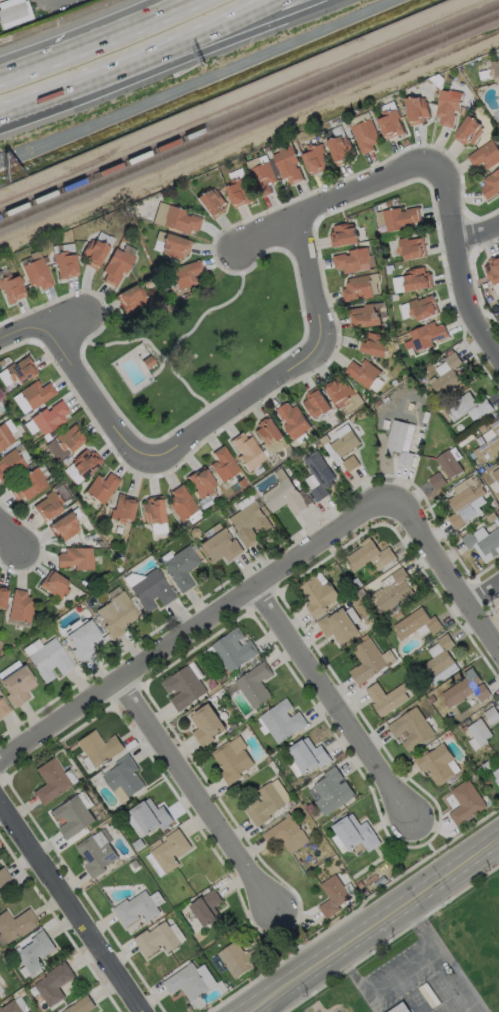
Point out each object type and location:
road: (50, 3)
road: (179, 6)
road: (183, 6)
building: (13, 12)
road: (85, 46)
road: (132, 57)
road: (166, 65)
building: (494, 69)
building: (497, 100)
building: (447, 106)
building: (416, 109)
railway: (249, 113)
building: (389, 123)
railway: (249, 125)
building: (468, 130)
building: (365, 135)
building: (339, 148)
building: (484, 154)
building: (315, 158)
building: (287, 164)
building: (262, 178)
building: (490, 184)
building: (238, 192)
building: (210, 202)
road: (339, 205)
building: (399, 218)
building: (179, 220)
building: (342, 235)
road: (477, 235)
building: (174, 246)
building: (411, 247)
building: (94, 253)
building: (352, 260)
road: (458, 263)
building: (64, 264)
building: (116, 265)
building: (493, 268)
building: (36, 273)
building: (186, 273)
building: (416, 278)
building: (10, 288)
building: (356, 288)
building: (131, 297)
road: (215, 307)
building: (422, 307)
building: (364, 316)
road: (45, 324)
building: (426, 335)
road: (149, 342)
building: (373, 344)
park: (199, 345)
building: (20, 369)
building: (363, 372)
building: (446, 373)
building: (338, 391)
building: (36, 393)
building: (316, 402)
building: (467, 407)
building: (49, 417)
road: (215, 418)
building: (292, 420)
building: (268, 430)
building: (4, 435)
building: (69, 437)
building: (400, 440)
building: (489, 442)
building: (345, 443)
building: (246, 451)
building: (85, 462)
building: (449, 462)
building: (350, 463)
building: (10, 464)
building: (222, 464)
building: (319, 474)
building: (496, 475)
building: (436, 480)
building: (201, 482)
building: (28, 485)
building: (101, 487)
building: (284, 496)
building: (181, 503)
building: (465, 504)
building: (47, 506)
building: (122, 508)
building: (152, 510)
building: (249, 523)
building: (64, 526)
road: (12, 539)
building: (483, 544)
building: (220, 546)
building: (369, 556)
building: (75, 558)
building: (179, 566)
road: (445, 574)
building: (54, 584)
building: (150, 590)
building: (392, 590)
building: (3, 595)
building: (317, 595)
road: (484, 598)
building: (20, 606)
building: (116, 614)
building: (416, 624)
building: (338, 626)
road: (196, 634)
building: (82, 639)
building: (233, 649)
building: (49, 659)
building: (366, 661)
building: (438, 661)
building: (254, 684)
building: (17, 685)
building: (183, 687)
building: (465, 688)
building: (386, 697)
building: (3, 707)
road: (337, 707)
building: (281, 720)
building: (205, 724)
building: (410, 728)
building: (478, 734)
building: (98, 748)
building: (308, 755)
building: (231, 759)
building: (435, 763)
building: (496, 776)
building: (123, 778)
building: (50, 780)
building: (331, 791)
road: (199, 799)
building: (465, 802)
building: (264, 804)
building: (72, 816)
building: (150, 816)
building: (354, 832)
building: (285, 834)
road: (432, 848)
building: (169, 850)
building: (95, 855)
building: (3, 875)
building: (332, 895)
building: (206, 907)
building: (135, 908)
road: (70, 909)
building: (15, 924)
road: (374, 926)
building: (156, 939)
road: (294, 942)
building: (34, 952)
building: (238, 959)
road: (403, 970)
building: (190, 981)
building: (54, 983)
building: (0, 989)
building: (0, 991)
building: (83, 1006)
building: (11, 1007)
building: (400, 1008)

